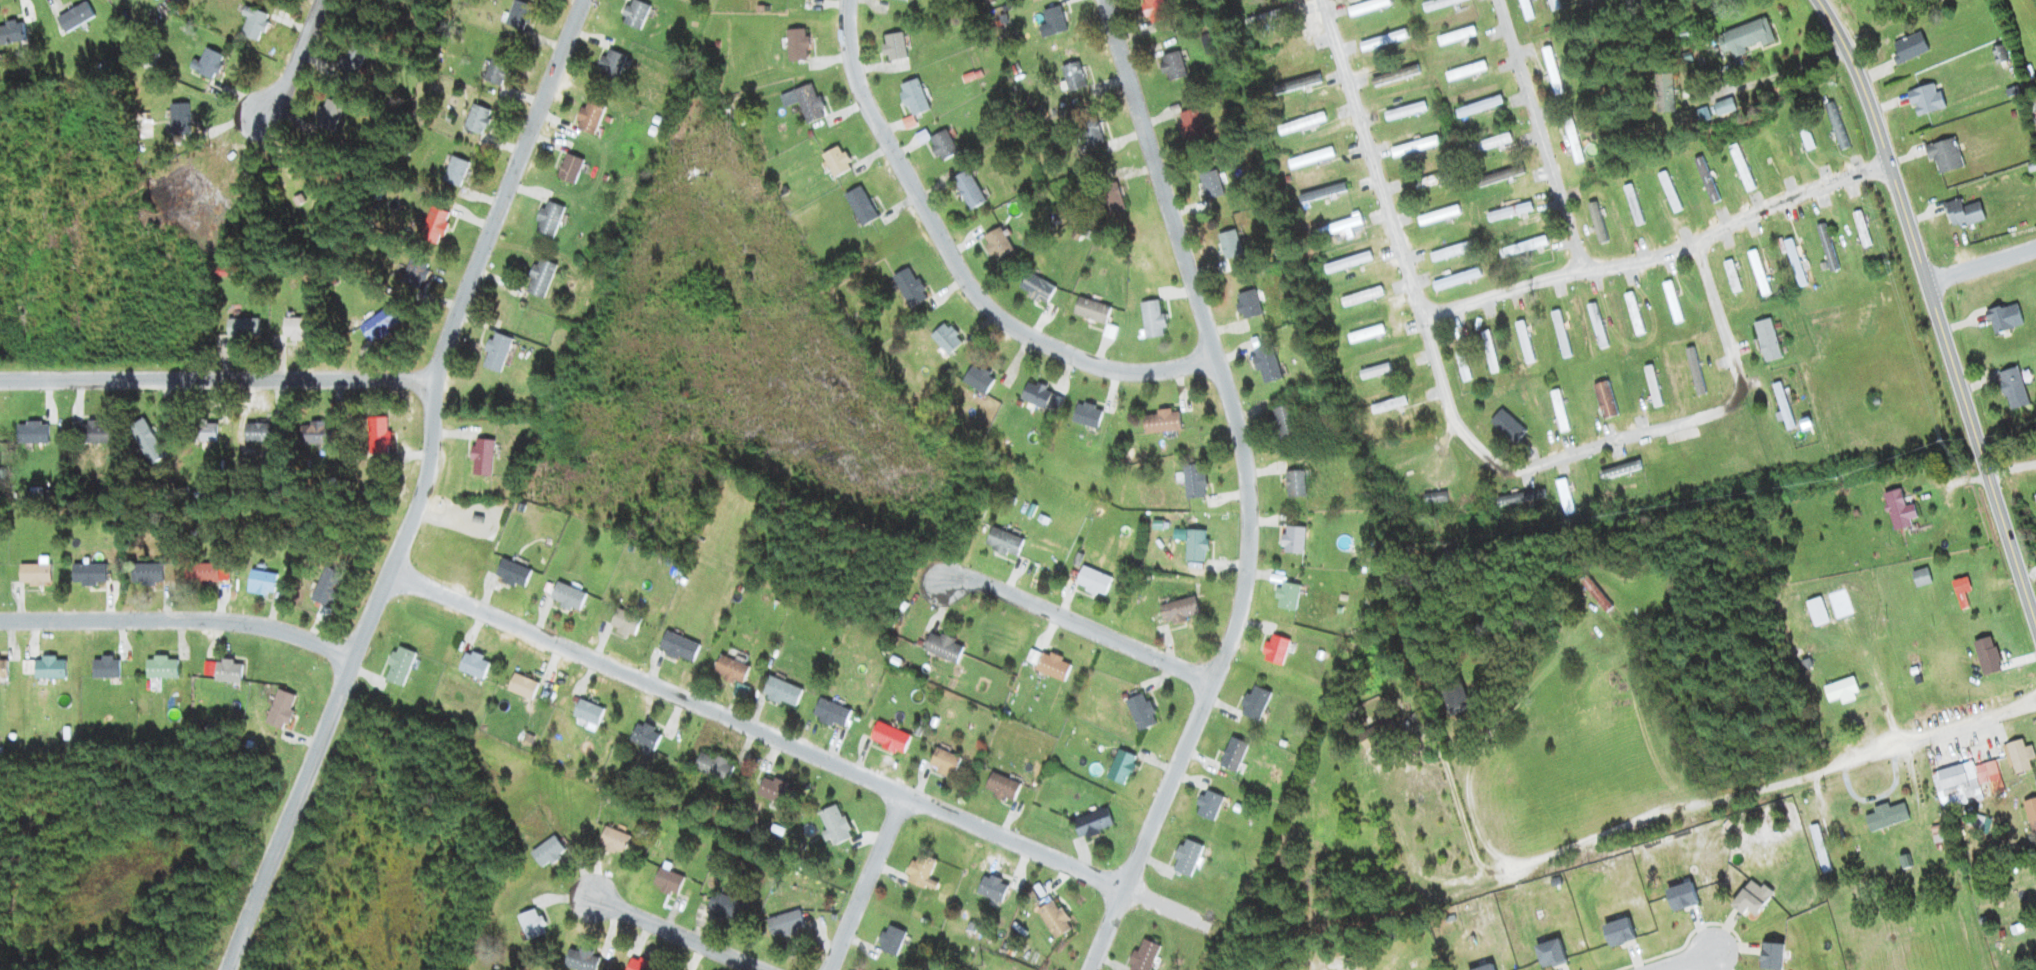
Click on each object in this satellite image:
building: (902, 0)
building: (1437, 3)
building: (1368, 6)
building: (1154, 10)
building: (371, 11)
building: (634, 14)
building: (519, 15)
building: (74, 17)
building: (1265, 18)
building: (1053, 20)
building: (252, 24)
building: (11, 33)
building: (1456, 36)
building: (1746, 38)
building: (1383, 40)
building: (796, 45)
building: (893, 47)
building: (1910, 47)
road: (297, 58)
building: (352, 60)
building: (206, 64)
building: (610, 65)
building: (1172, 66)
building: (1466, 71)
building: (1552, 71)
building: (497, 72)
building: (1395, 76)
building: (1073, 77)
building: (1306, 81)
building: (1664, 93)
building: (912, 97)
building: (1925, 100)
building: (808, 104)
building: (1478, 107)
building: (1724, 107)
building: (1405, 111)
building: (329, 115)
building: (588, 118)
building: (178, 120)
building: (476, 120)
building: (1300, 124)
building: (1191, 126)
building: (1836, 127)
building: (1090, 133)
road: (1540, 134)
building: (1572, 140)
building: (1806, 140)
building: (1490, 143)
building: (942, 146)
building: (1415, 147)
building: (1944, 156)
building: (1310, 159)
road: (1372, 159)
building: (835, 162)
building: (1741, 168)
building: (569, 170)
building: (454, 172)
building: (1500, 177)
building: (1432, 180)
building: (1706, 180)
building: (1210, 185)
building: (968, 191)
building: (1669, 192)
building: (1322, 194)
building: (1111, 199)
building: (1632, 206)
building: (860, 207)
building: (1508, 212)
building: (1963, 214)
building: (1439, 216)
building: (1595, 218)
building: (547, 220)
building: (433, 227)
building: (1337, 228)
building: (1861, 229)
building: (996, 244)
building: (1230, 245)
building: (1522, 248)
building: (1827, 248)
building: (1450, 252)
road: (1661, 253)
building: (1347, 263)
building: (1794, 263)
road: (1981, 264)
road: (958, 267)
building: (1758, 273)
building: (413, 275)
building: (1731, 276)
building: (538, 279)
building: (1456, 279)
building: (908, 288)
building: (1036, 289)
building: (1361, 297)
building: (1672, 302)
building: (1247, 305)
road: (1937, 309)
building: (1090, 311)
building: (1633, 314)
building: (1151, 319)
building: (2003, 319)
building: (380, 324)
building: (1597, 326)
building: (242, 329)
building: (296, 330)
building: (1365, 334)
building: (1560, 334)
building: (945, 339)
building: (1767, 340)
building: (1524, 342)
building: (1489, 352)
building: (495, 353)
building: (1266, 364)
building: (1462, 365)
building: (1374, 371)
building: (1694, 371)
road: (217, 379)
building: (978, 380)
building: (1652, 386)
building: (2013, 388)
building: (1035, 395)
building: (1604, 399)
building: (1388, 404)
building: (1783, 406)
building: (1559, 411)
building: (1086, 416)
building: (1160, 423)
building: (1283, 424)
building: (1507, 426)
building: (202, 430)
building: (92, 431)
building: (31, 432)
building: (258, 432)
building: (314, 432)
building: (377, 436)
road: (1615, 440)
building: (146, 441)
building: (1403, 449)
building: (481, 457)
road: (2012, 467)
building: (1620, 470)
building: (1470, 481)
building: (1193, 482)
building: (1295, 483)
road: (421, 489)
road: (1249, 490)
building: (2035, 496)
building: (1436, 497)
building: (1565, 497)
building: (1522, 499)
building: (1898, 510)
building: (1292, 539)
building: (1003, 542)
building: (1195, 545)
building: (511, 573)
building: (87, 574)
building: (145, 574)
building: (200, 574)
building: (32, 575)
building: (1921, 578)
building: (1092, 581)
building: (261, 582)
building: (326, 587)
building: (1595, 594)
building: (1960, 595)
building: (1286, 596)
building: (566, 597)
building: (1178, 610)
building: (1817, 612)
road: (178, 620)
building: (624, 623)
road: (1076, 625)
building: (678, 647)
building: (942, 647)
building: (1275, 650)
building: (1986, 656)
building: (473, 665)
building: (397, 666)
building: (104, 667)
building: (160, 667)
building: (1052, 667)
building: (3, 668)
building: (47, 668)
building: (729, 669)
building: (227, 671)
building: (521, 686)
building: (780, 691)
building: (1842, 691)
building: (1455, 697)
building: (1254, 703)
building: (279, 710)
building: (1140, 711)
building: (587, 712)
building: (830, 714)
building: (1377, 733)
building: (644, 736)
building: (889, 737)
road: (797, 748)
building: (1233, 754)
building: (943, 762)
building: (712, 766)
building: (1120, 767)
building: (1981, 773)
road: (1785, 780)
building: (1001, 787)
building: (771, 789)
building: (1207, 805)
building: (2031, 813)
building: (1886, 816)
building: (1091, 823)
building: (834, 825)
building: (612, 841)
building: (1819, 848)
building: (547, 852)
building: (1186, 858)
building: (920, 872)
road: (866, 881)
building: (667, 882)
building: (991, 888)
building: (726, 907)
building: (1053, 918)
building: (531, 924)
building: (784, 924)
road: (681, 936)
building: (890, 941)
building: (1143, 956)
building: (580, 960)
road: (1694, 963)
building: (639, 965)

